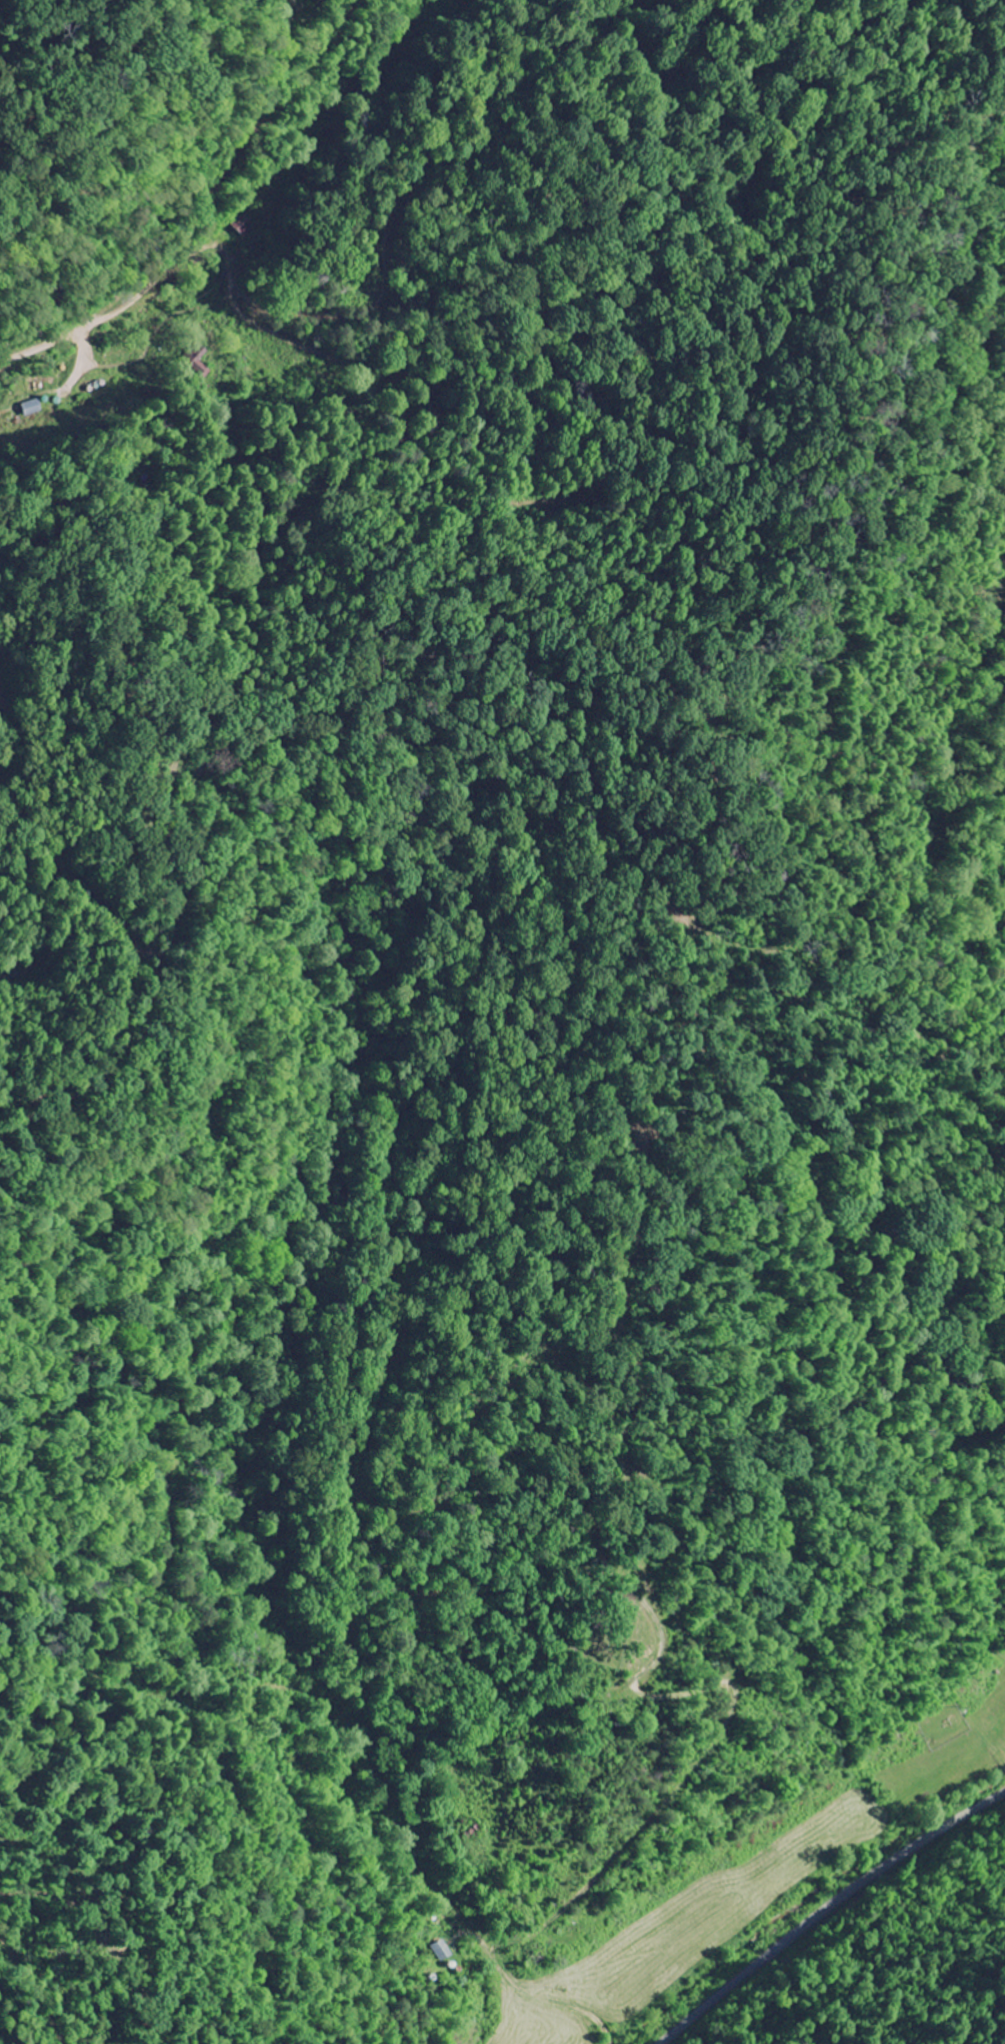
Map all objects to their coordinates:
building: (242, 225)
road: (107, 292)
building: (196, 361)
building: (31, 408)
road: (830, 1912)
building: (444, 1951)

